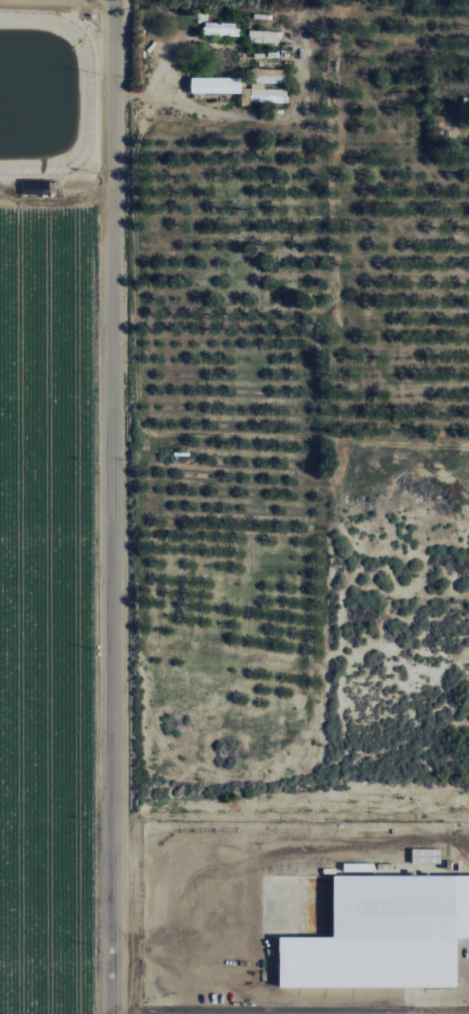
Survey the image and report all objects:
building: (221, 28)
building: (216, 85)
building: (264, 89)
road: (54, 202)
crop: (50, 505)
road: (112, 506)
road: (94, 604)
building: (427, 855)
building: (385, 935)

